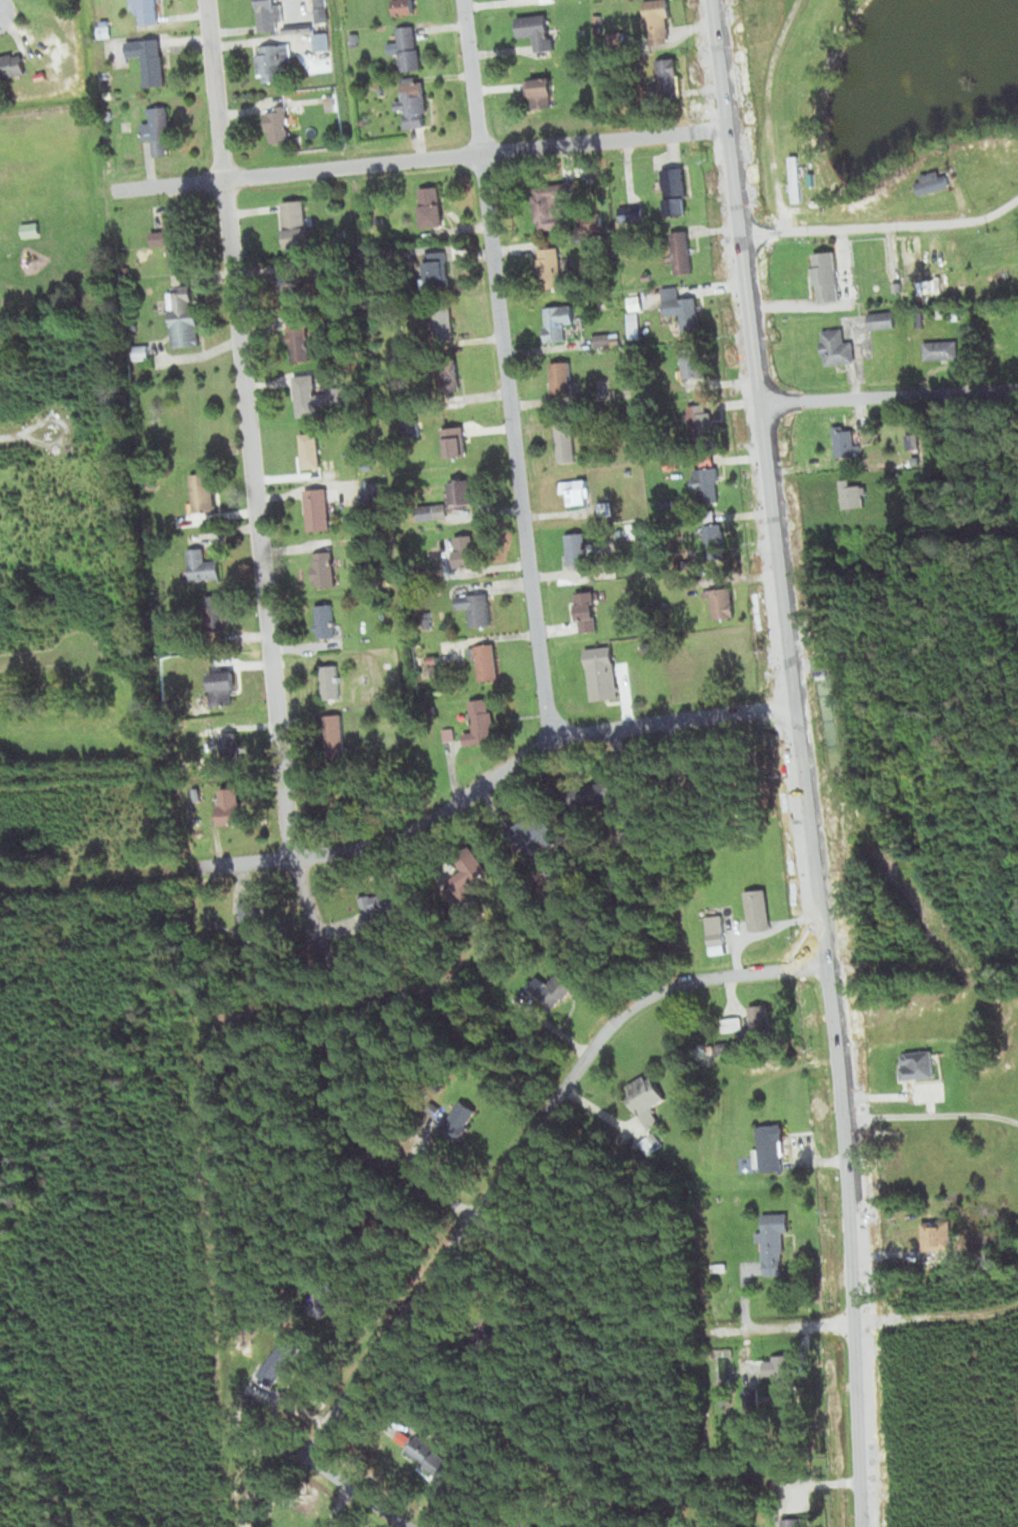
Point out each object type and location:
building: (547, 1)
building: (405, 6)
building: (146, 10)
building: (320, 10)
building: (267, 14)
building: (657, 16)
building: (104, 21)
building: (534, 26)
building: (353, 38)
building: (322, 40)
building: (408, 47)
building: (148, 58)
building: (272, 60)
building: (11, 64)
building: (664, 83)
building: (381, 88)
building: (541, 92)
building: (107, 94)
building: (327, 100)
building: (414, 102)
road: (769, 113)
building: (278, 125)
building: (156, 129)
road: (416, 157)
building: (795, 177)
building: (675, 191)
building: (544, 203)
building: (432, 204)
building: (631, 213)
building: (296, 224)
road: (881, 225)
building: (29, 228)
building: (169, 237)
building: (680, 251)
building: (552, 264)
building: (435, 270)
building: (644, 275)
building: (288, 287)
building: (161, 304)
building: (680, 308)
building: (939, 312)
building: (953, 313)
building: (184, 316)
building: (881, 320)
building: (557, 321)
building: (442, 322)
building: (633, 325)
building: (300, 338)
building: (606, 338)
building: (836, 348)
building: (941, 351)
building: (140, 352)
building: (694, 366)
road: (503, 369)
building: (562, 376)
building: (450, 381)
building: (317, 395)
road: (887, 395)
crop: (168, 420)
building: (700, 425)
building: (410, 429)
road: (23, 432)
building: (456, 443)
building: (566, 443)
building: (309, 449)
building: (916, 461)
road: (250, 483)
building: (705, 484)
building: (369, 491)
building: (575, 491)
building: (203, 492)
building: (460, 493)
building: (853, 494)
building: (663, 502)
building: (318, 507)
building: (605, 508)
building: (713, 542)
building: (468, 550)
building: (579, 551)
building: (202, 566)
building: (325, 567)
building: (724, 600)
building: (478, 606)
building: (587, 612)
building: (383, 615)
building: (217, 616)
building: (325, 620)
road: (37, 657)
building: (636, 657)
building: (431, 659)
building: (486, 659)
building: (602, 673)
building: (360, 678)
building: (330, 681)
building: (428, 685)
building: (222, 687)
building: (478, 721)
building: (332, 737)
building: (231, 745)
road: (797, 762)
building: (598, 792)
building: (343, 802)
building: (234, 805)
road: (407, 832)
building: (533, 833)
building: (473, 874)
building: (383, 907)
building: (757, 910)
building: (250, 921)
building: (716, 933)
road: (919, 962)
building: (555, 986)
building: (761, 1022)
building: (913, 1064)
road: (894, 1095)
building: (646, 1098)
road: (930, 1115)
building: (465, 1118)
building: (652, 1136)
building: (646, 1145)
building: (770, 1146)
road: (519, 1147)
building: (772, 1240)
building: (934, 1241)
building: (721, 1266)
road: (728, 1328)
building: (487, 1356)
building: (773, 1387)
building: (725, 1402)
building: (430, 1458)
road: (358, 1493)
building: (792, 1520)
building: (521, 1522)

